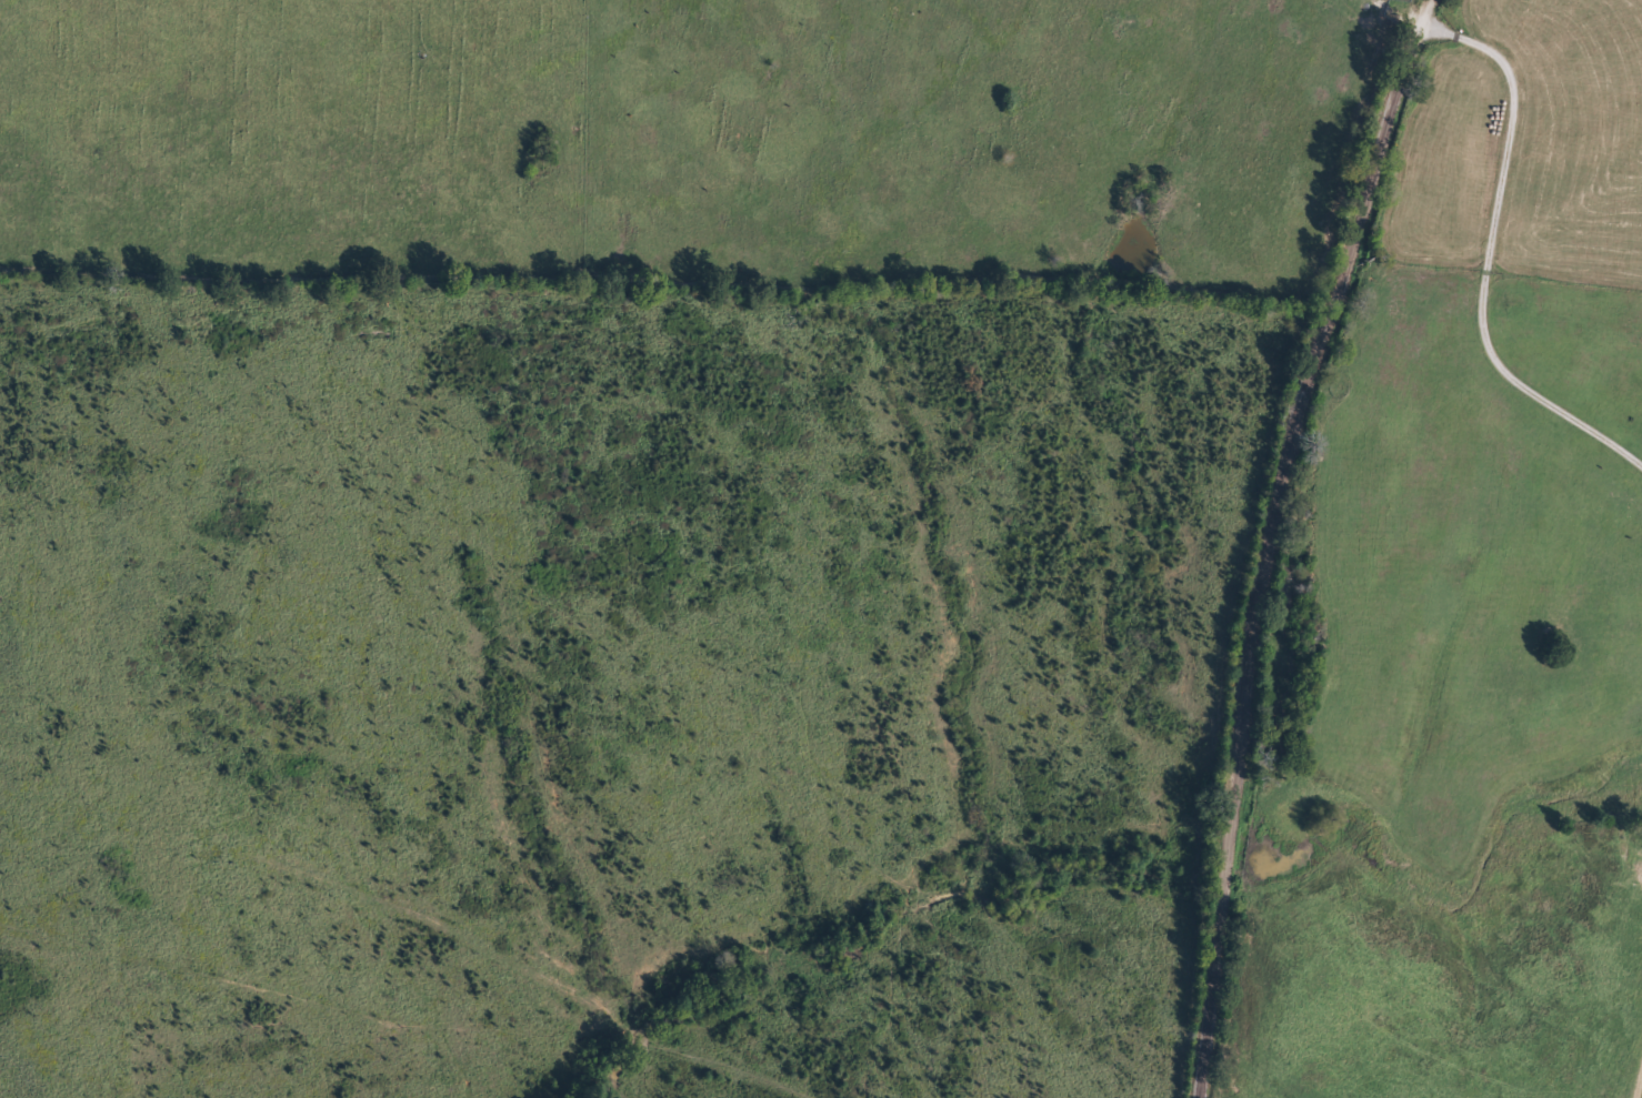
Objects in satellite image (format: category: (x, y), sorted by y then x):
road: (1268, 542)

